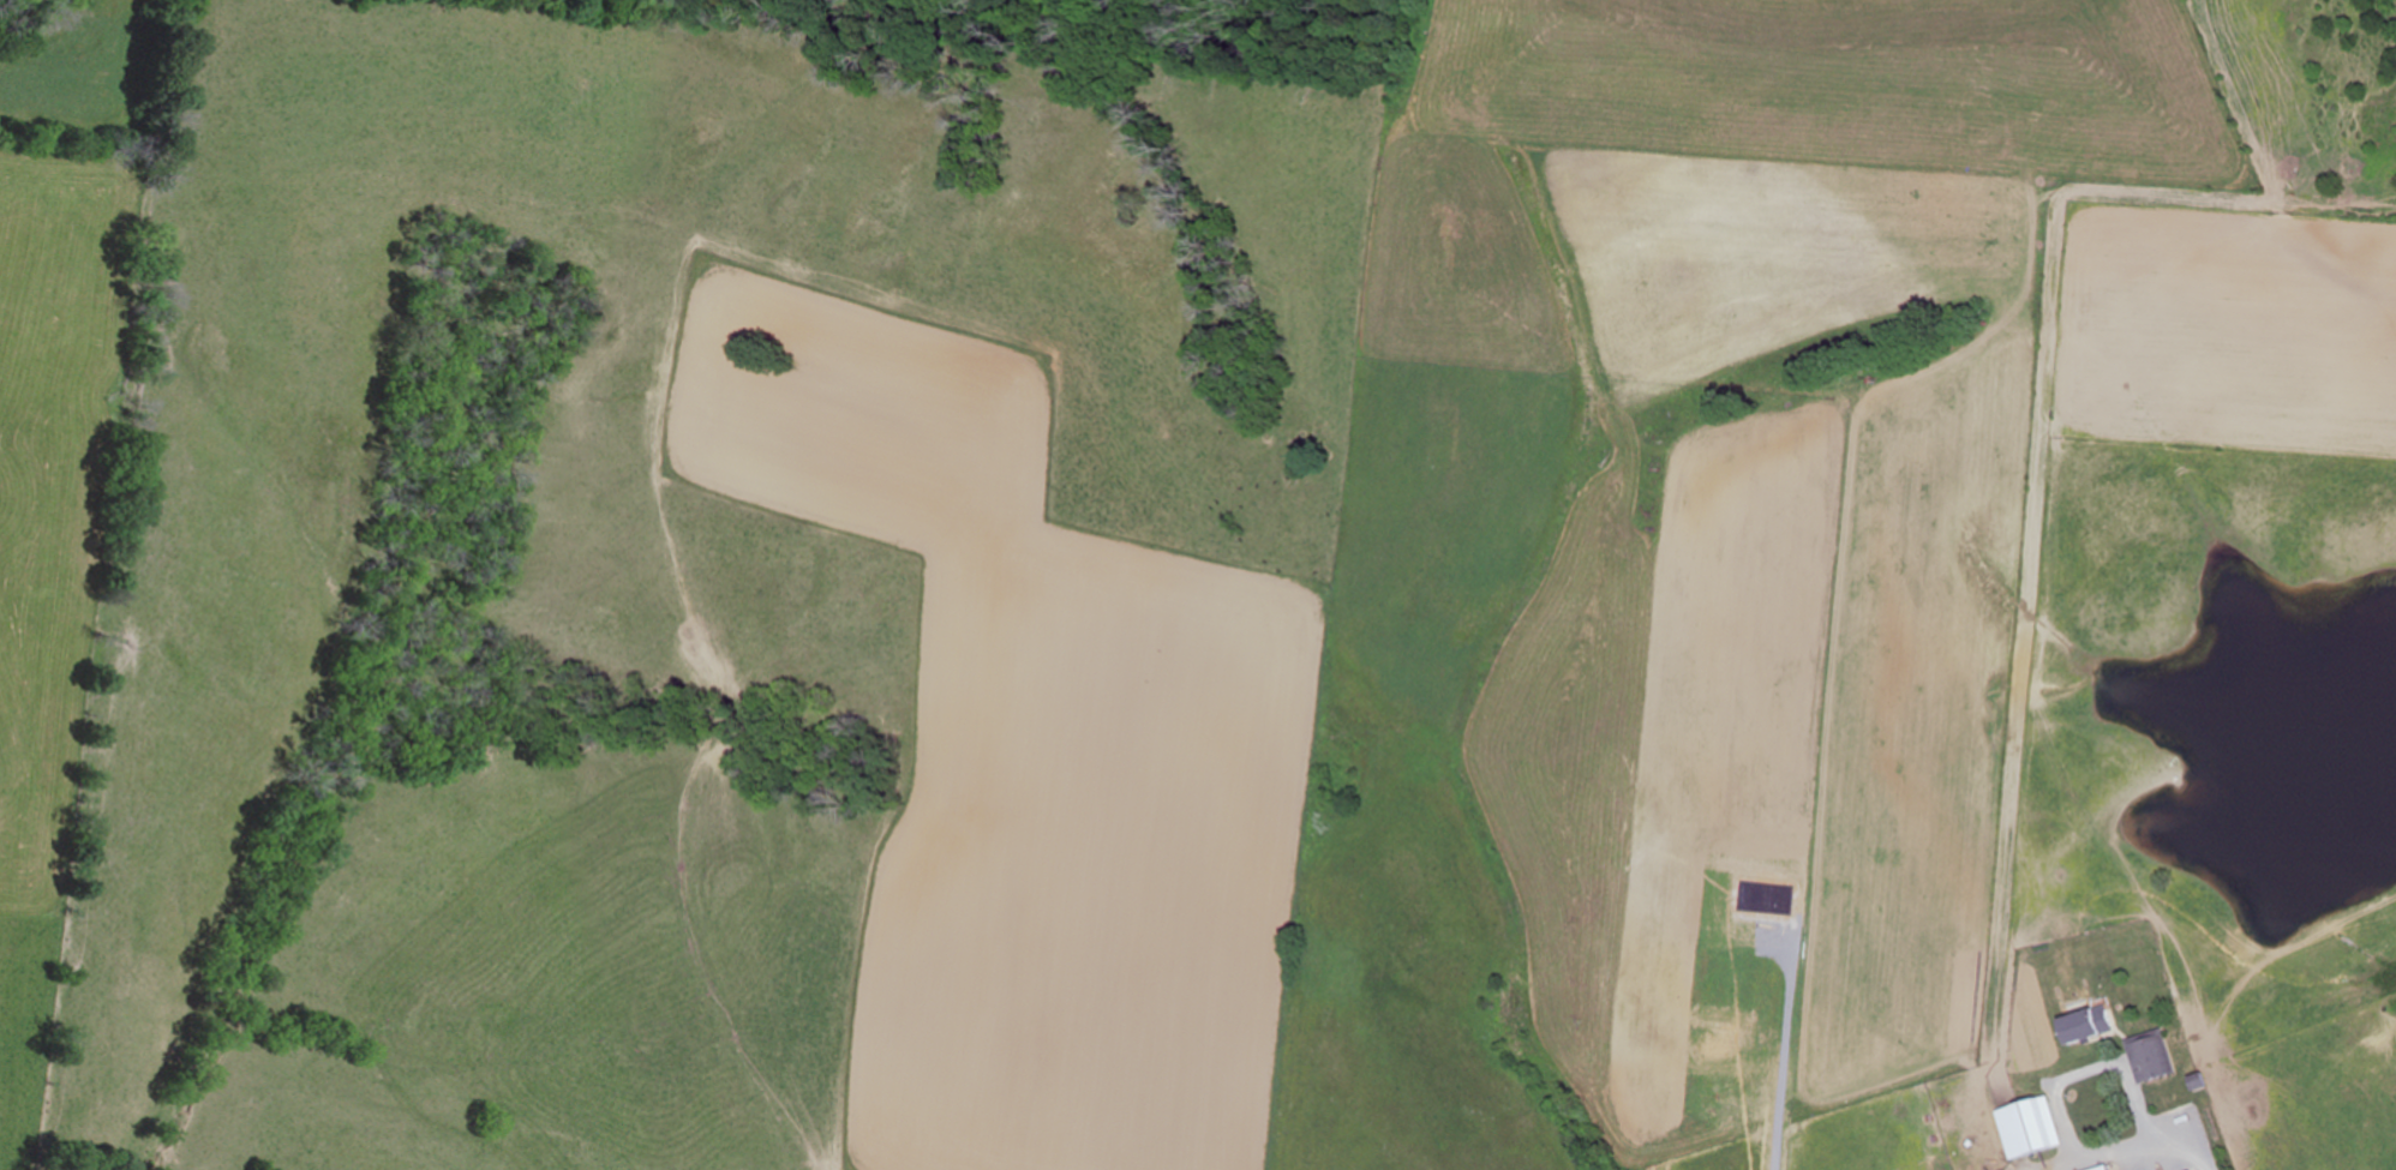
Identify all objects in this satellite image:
building: (2150, 1056)
building: (2027, 1127)
building: (2101, 1168)

